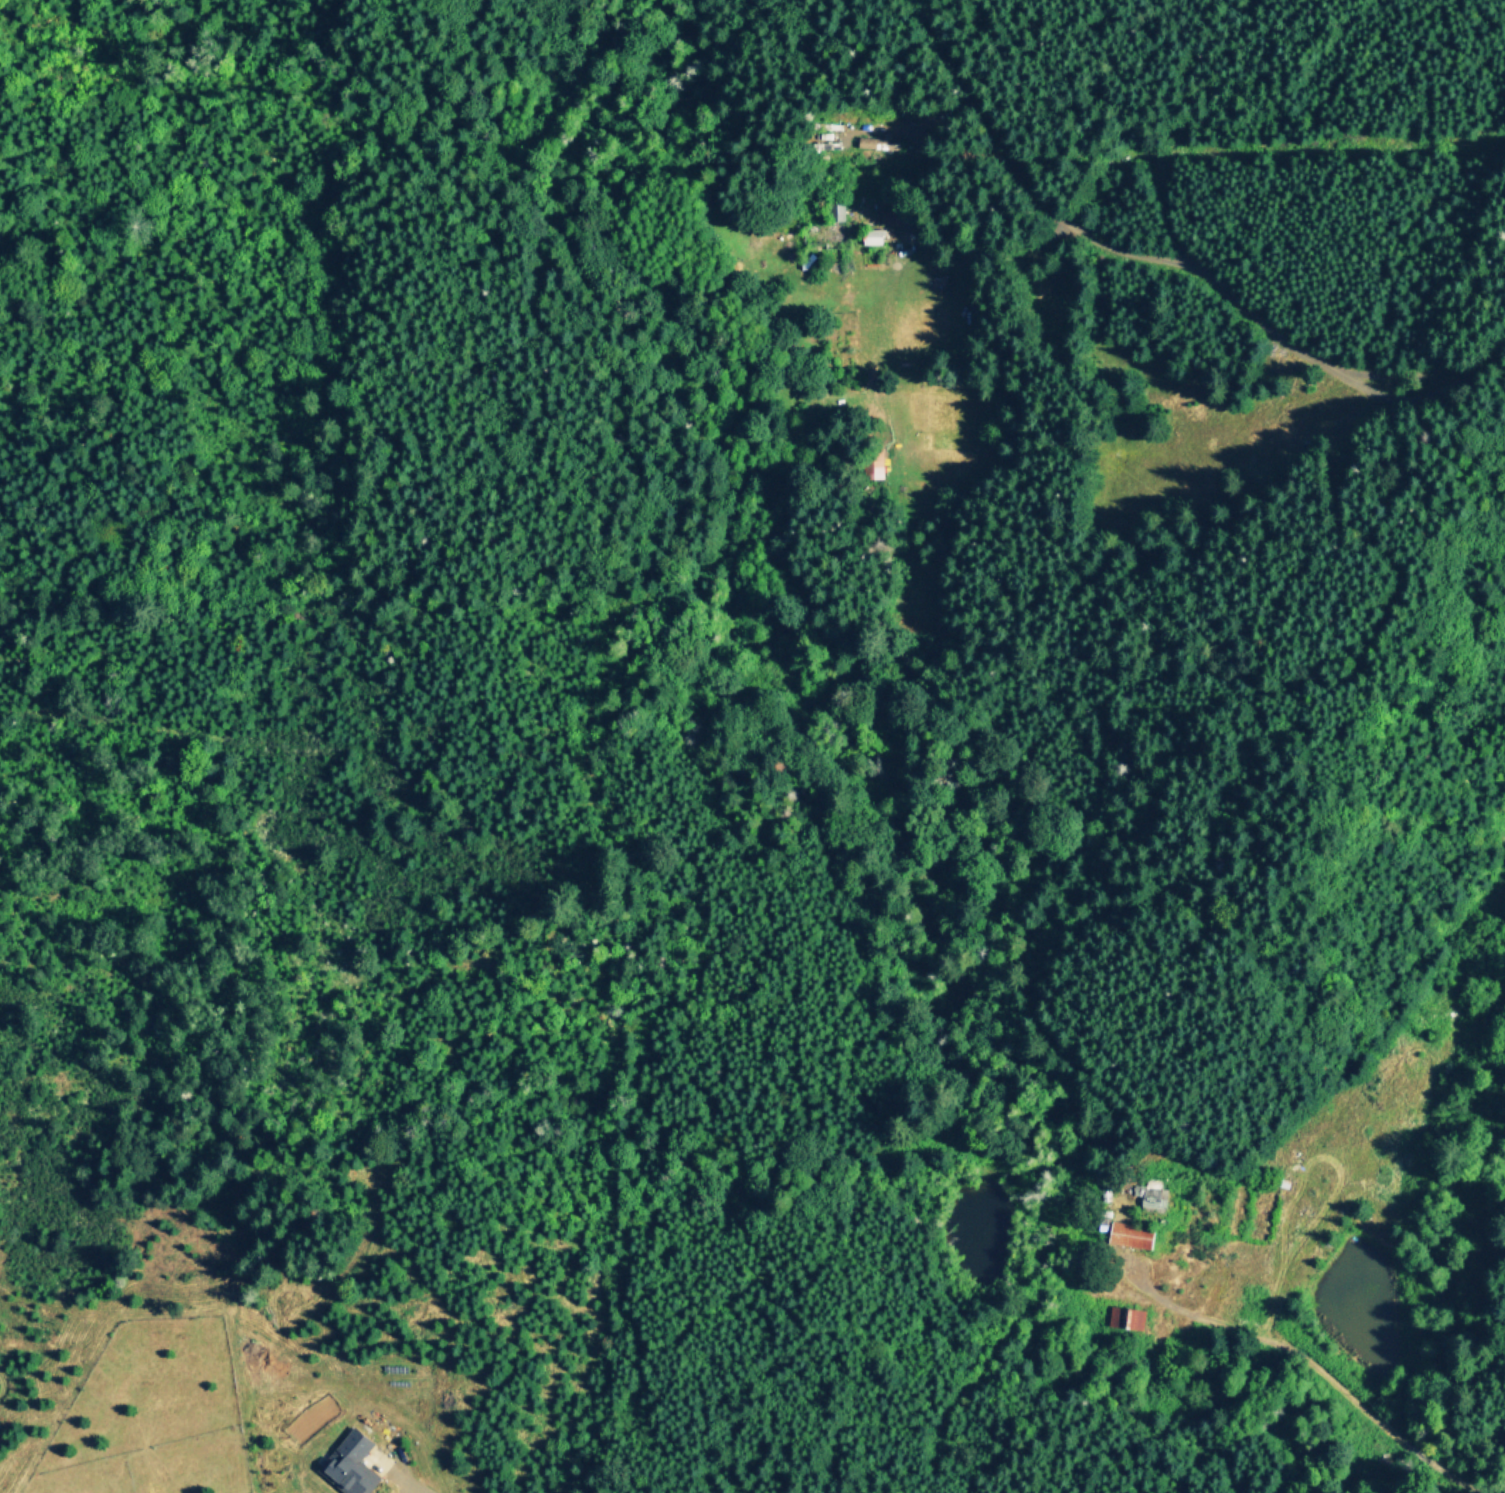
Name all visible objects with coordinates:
road: (980, 121)
building: (837, 210)
building: (891, 215)
building: (872, 236)
road: (1227, 294)
building: (1151, 1196)
building: (1129, 1235)
building: (1125, 1317)
road: (1311, 1360)
building: (348, 1464)
road: (424, 1487)

